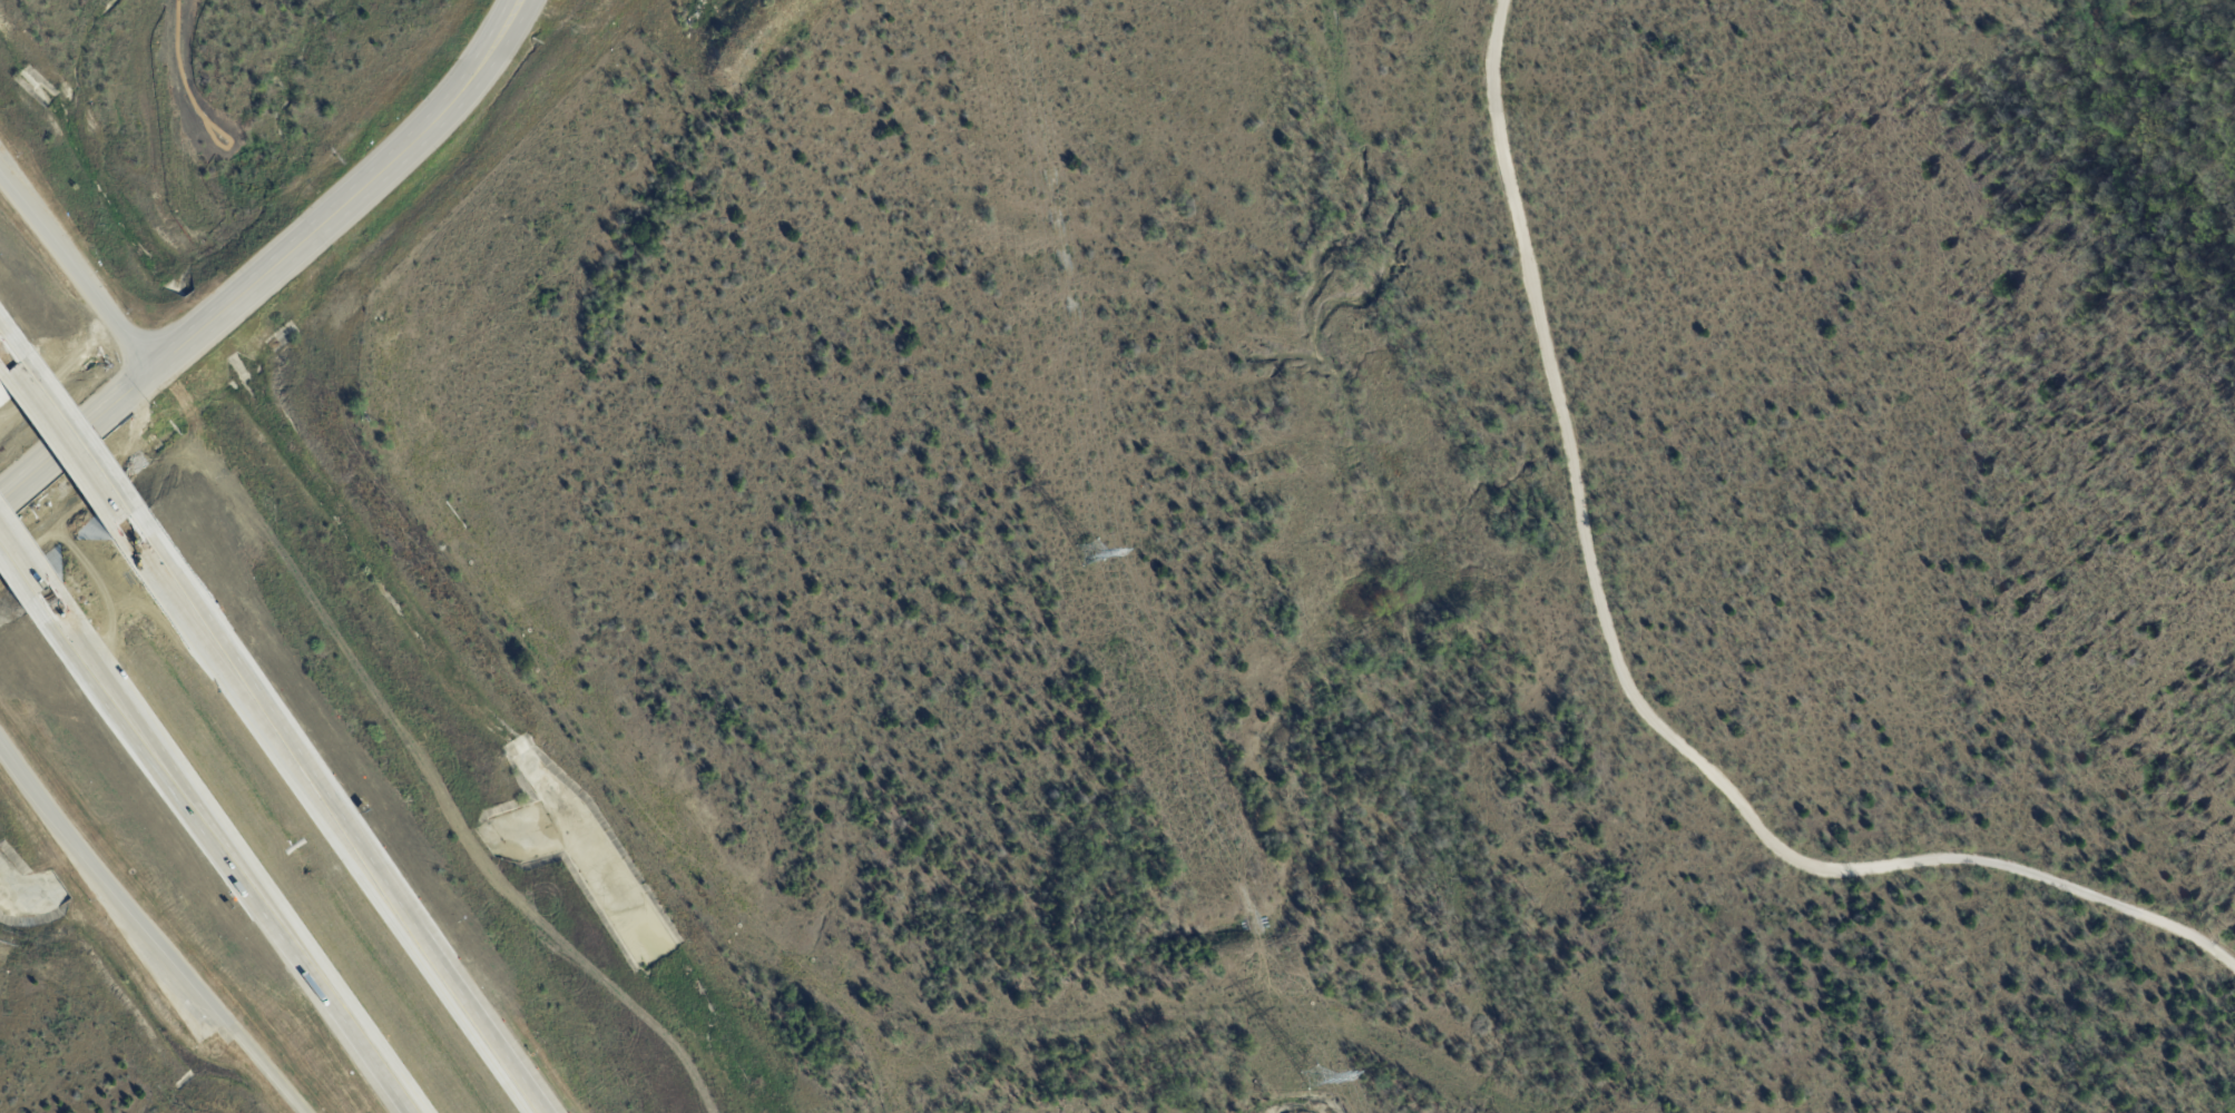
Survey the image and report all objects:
road: (503, 27)
road: (517, 27)
road: (327, 215)
road: (77, 266)
road: (2, 327)
road: (72, 425)
road: (76, 433)
power tower: (1089, 552)
road: (24, 559)
road: (1630, 686)
road: (347, 817)
road: (232, 853)
road: (148, 930)
power tower: (1310, 1078)

